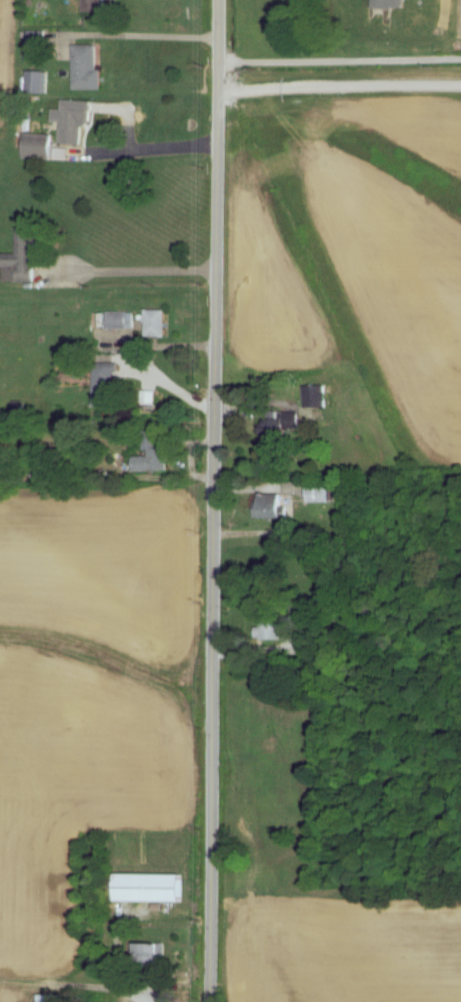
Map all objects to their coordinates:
building: (393, 4)
building: (98, 5)
road: (157, 33)
building: (40, 38)
road: (339, 57)
building: (90, 68)
road: (339, 86)
building: (76, 120)
building: (41, 145)
road: (144, 146)
building: (26, 254)
road: (134, 267)
building: (123, 319)
building: (159, 323)
road: (170, 384)
building: (318, 396)
building: (276, 430)
building: (155, 455)
road: (213, 500)
building: (272, 506)
building: (154, 888)
building: (155, 956)
road: (119, 967)
building: (52, 998)

